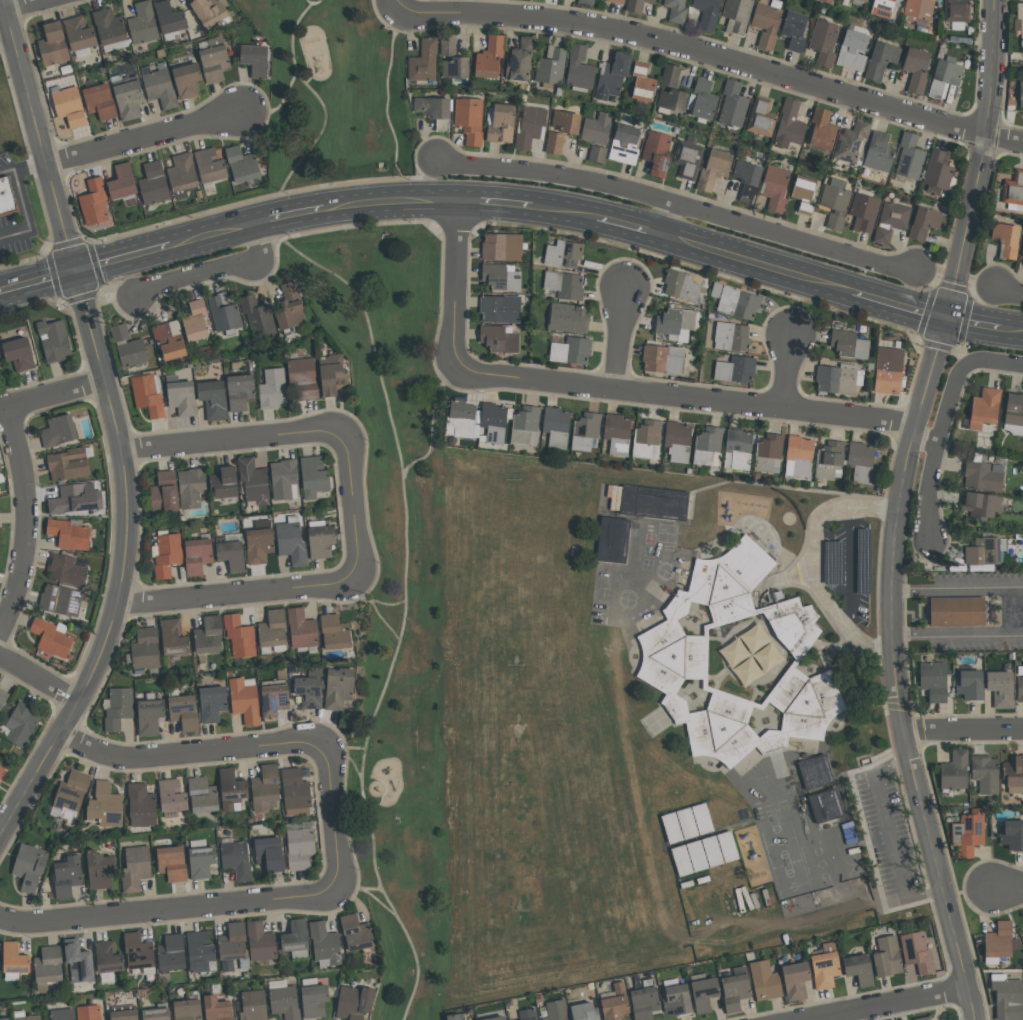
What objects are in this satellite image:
building: (866, 0)
building: (937, 0)
building: (588, 1)
building: (618, 1)
building: (829, 1)
road: (392, 2)
building: (638, 5)
road: (32, 7)
building: (884, 8)
building: (920, 9)
building: (677, 10)
building: (958, 10)
building: (1019, 10)
building: (212, 12)
building: (709, 13)
building: (737, 14)
building: (171, 20)
building: (144, 23)
building: (767, 24)
road: (5, 25)
building: (112, 29)
building: (796, 30)
building: (81, 35)
building: (825, 42)
building: (54, 44)
building: (855, 48)
road: (710, 54)
building: (491, 57)
building: (454, 58)
building: (216, 59)
building: (256, 59)
building: (522, 59)
building: (883, 60)
building: (425, 61)
building: (552, 66)
building: (919, 68)
building: (581, 69)
building: (614, 75)
building: (672, 75)
building: (947, 76)
building: (189, 80)
building: (644, 82)
building: (162, 88)
building: (1020, 93)
building: (130, 99)
building: (671, 99)
building: (705, 100)
building: (101, 101)
building: (735, 104)
building: (70, 105)
road: (282, 105)
road: (388, 107)
building: (437, 110)
building: (763, 117)
building: (471, 118)
building: (501, 120)
building: (568, 121)
building: (791, 125)
building: (532, 126)
building: (598, 128)
building: (824, 129)
road: (38, 137)
road: (146, 140)
building: (854, 141)
building: (556, 143)
building: (626, 144)
building: (659, 152)
building: (881, 152)
building: (599, 154)
building: (912, 157)
building: (689, 158)
road: (979, 159)
building: (244, 164)
building: (212, 165)
road: (22, 166)
building: (716, 169)
building: (940, 172)
building: (184, 175)
building: (749, 179)
building: (124, 182)
building: (156, 183)
building: (777, 188)
building: (806, 188)
building: (1014, 190)
road: (390, 200)
building: (6, 201)
building: (96, 202)
building: (837, 202)
road: (494, 203)
road: (678, 206)
building: (807, 208)
building: (865, 210)
road: (24, 211)
road: (292, 213)
road: (564, 213)
road: (668, 221)
building: (892, 221)
building: (926, 223)
road: (630, 228)
road: (215, 234)
building: (1008, 239)
building: (504, 246)
building: (1022, 247)
building: (565, 254)
road: (122, 261)
road: (758, 265)
road: (215, 270)
traffic signals: (74, 275)
building: (503, 277)
road: (37, 284)
road: (454, 285)
building: (566, 285)
building: (683, 285)
road: (1008, 290)
building: (737, 301)
road: (900, 305)
building: (291, 306)
building: (502, 308)
building: (225, 313)
building: (259, 317)
building: (570, 317)
traffic signals: (948, 317)
building: (197, 321)
road: (975, 321)
building: (675, 322)
road: (1013, 325)
building: (730, 336)
building: (500, 338)
building: (171, 339)
building: (56, 340)
road: (621, 341)
building: (851, 344)
building: (130, 347)
building: (573, 350)
building: (20, 354)
building: (664, 358)
building: (890, 367)
building: (0, 368)
building: (733, 368)
road: (788, 371)
road: (960, 371)
building: (334, 374)
building: (305, 377)
building: (840, 379)
building: (274, 388)
building: (241, 391)
road: (51, 392)
building: (150, 394)
road: (689, 395)
building: (183, 397)
building: (214, 399)
building: (985, 408)
building: (1015, 414)
building: (463, 419)
building: (495, 421)
road: (434, 422)
building: (526, 424)
building: (558, 427)
building: (60, 430)
building: (587, 431)
building: (619, 433)
building: (648, 440)
road: (232, 441)
building: (680, 441)
building: (710, 446)
building: (740, 449)
park: (379, 451)
building: (771, 453)
building: (801, 456)
building: (831, 460)
building: (862, 461)
building: (69, 464)
building: (0, 471)
building: (315, 476)
building: (984, 476)
road: (932, 478)
building: (286, 479)
building: (255, 481)
road: (404, 481)
building: (225, 482)
building: (192, 487)
building: (166, 491)
building: (77, 499)
building: (650, 502)
building: (983, 505)
road: (352, 507)
road: (24, 516)
building: (72, 533)
building: (615, 540)
building: (324, 541)
building: (262, 542)
building: (294, 542)
building: (167, 553)
building: (234, 554)
building: (978, 554)
building: (200, 555)
road: (122, 565)
road: (817, 565)
building: (68, 569)
road: (854, 572)
road: (957, 589)
road: (237, 593)
building: (63, 599)
road: (389, 605)
building: (952, 610)
road: (379, 611)
building: (304, 628)
building: (275, 631)
building: (337, 631)
road: (957, 632)
building: (211, 635)
building: (241, 635)
building: (54, 637)
building: (176, 637)
building: (148, 649)
building: (676, 653)
road: (894, 669)
road: (39, 678)
building: (930, 680)
building: (964, 684)
building: (1018, 685)
building: (340, 688)
building: (997, 688)
building: (311, 691)
building: (277, 696)
building: (3, 697)
building: (246, 701)
building: (215, 703)
building: (120, 708)
building: (186, 711)
building: (152, 715)
building: (24, 723)
road: (962, 728)
road: (331, 748)
road: (191, 752)
building: (2, 770)
building: (816, 771)
building: (950, 771)
building: (980, 773)
building: (1011, 774)
building: (268, 787)
building: (234, 789)
building: (298, 792)
building: (205, 795)
building: (73, 796)
building: (174, 797)
building: (144, 804)
building: (828, 805)
building: (108, 806)
road: (330, 818)
building: (965, 832)
building: (1008, 834)
road: (889, 838)
building: (302, 845)
building: (272, 853)
building: (203, 859)
building: (239, 859)
building: (174, 862)
building: (32, 866)
building: (138, 867)
building: (102, 869)
building: (69, 876)
road: (1008, 887)
road: (376, 889)
road: (370, 892)
road: (165, 908)
building: (359, 932)
building: (298, 939)
building: (263, 941)
building: (999, 942)
building: (235, 944)
building: (327, 944)
building: (917, 951)
building: (203, 952)
building: (141, 953)
building: (174, 953)
building: (889, 955)
building: (110, 957)
building: (17, 958)
building: (82, 963)
building: (51, 964)
building: (827, 966)
building: (860, 969)
building: (765, 980)
building: (796, 980)
building: (736, 989)
building: (706, 992)
building: (316, 997)
building: (679, 998)
building: (1009, 998)
building: (283, 1002)
building: (353, 1002)
building: (646, 1002)
road: (889, 1003)
building: (614, 1004)
building: (253, 1005)
building: (216, 1008)
building: (186, 1010)
building: (555, 1010)
building: (583, 1011)
building: (88, 1012)
building: (155, 1013)
building: (62, 1014)
building: (527, 1014)
building: (123, 1015)
building: (453, 1016)
building: (27, 1017)
building: (4, 1018)
building: (494, 1018)
building: (921, 1018)

